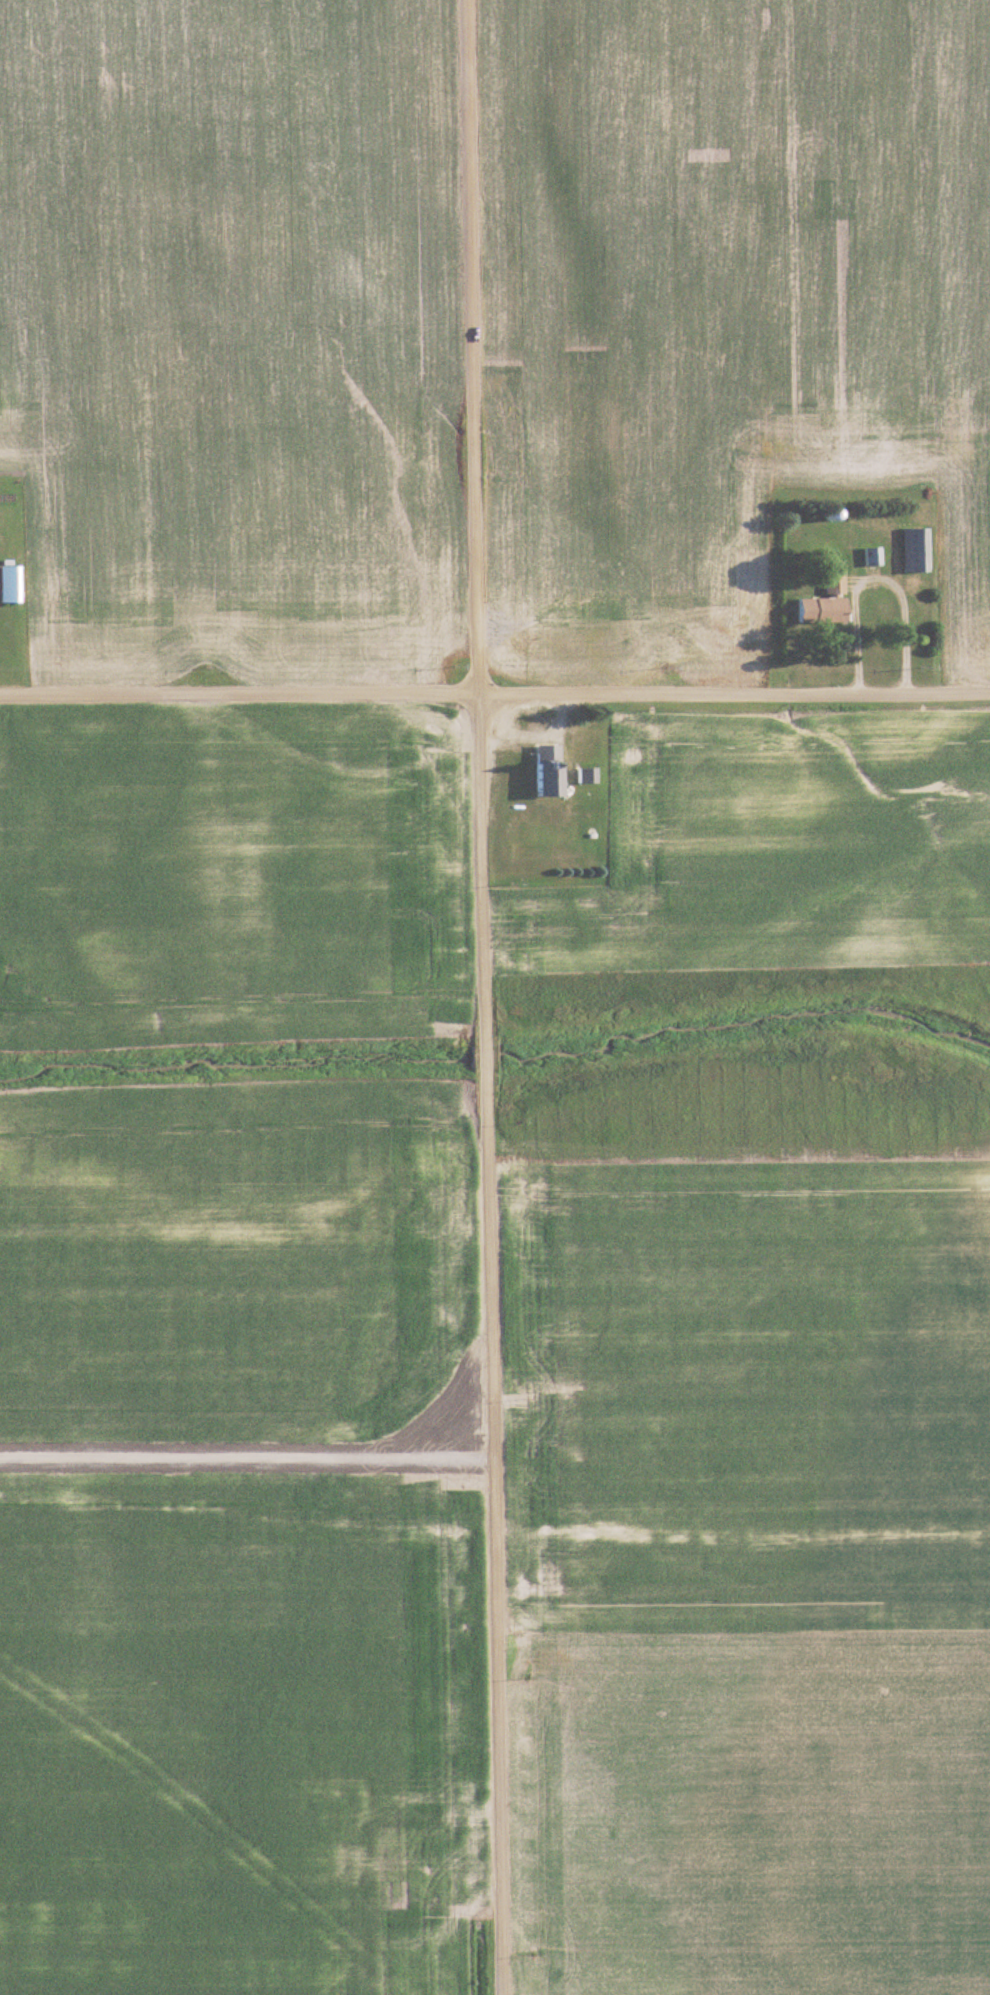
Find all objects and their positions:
building: (915, 549)
building: (829, 582)
building: (7, 584)
building: (815, 609)
road: (495, 695)
building: (540, 770)
building: (583, 775)
road: (480, 997)

